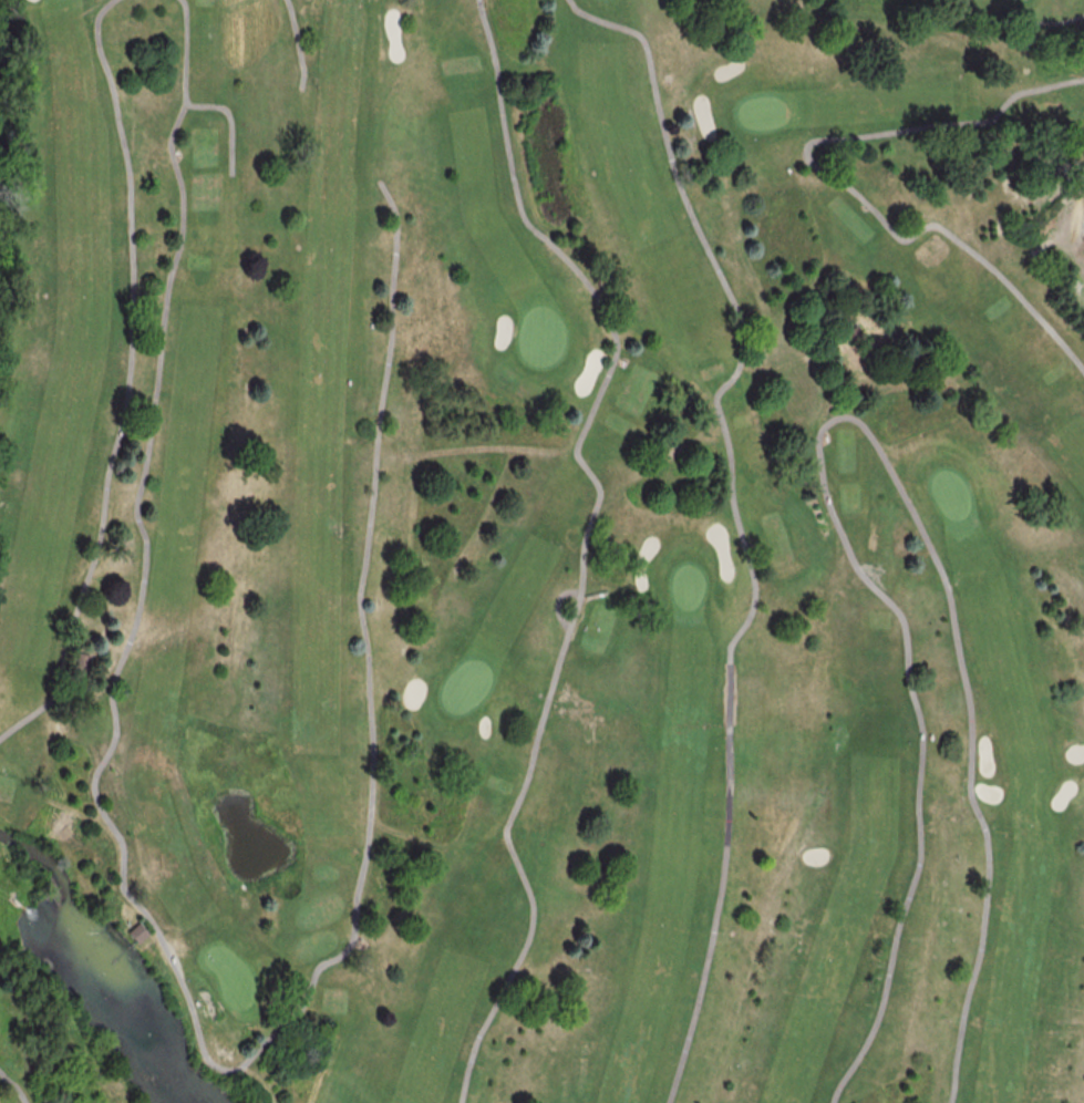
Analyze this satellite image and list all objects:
road: (1054, 22)
road: (297, 45)
road: (230, 122)
road: (835, 179)
road: (127, 380)
road: (835, 419)
road: (737, 520)
road: (585, 540)
park: (541, 551)
road: (557, 604)
building: (140, 935)
river: (95, 962)
road: (185, 996)
road: (14, 1086)

